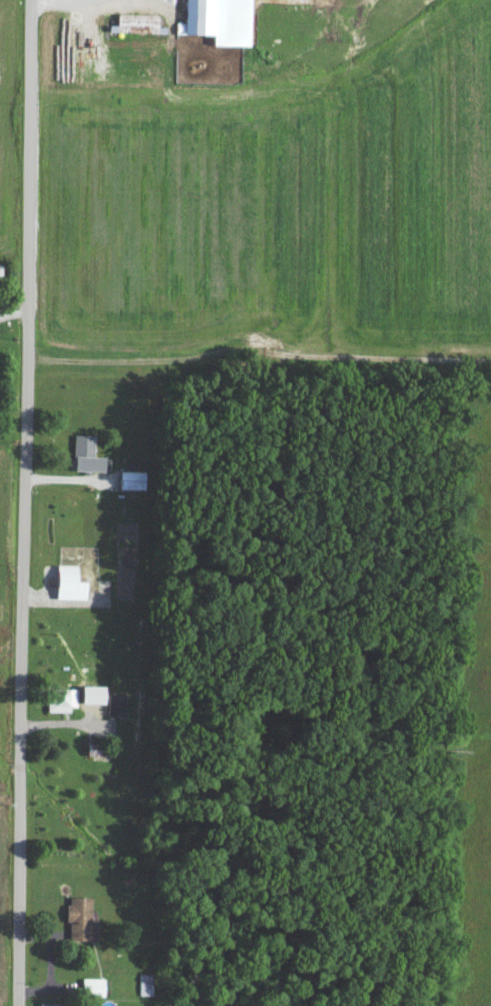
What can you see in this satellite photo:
building: (212, 23)
building: (79, 459)
road: (23, 502)
building: (62, 589)
building: (57, 705)
building: (110, 711)
building: (73, 924)
building: (139, 989)
building: (86, 992)

